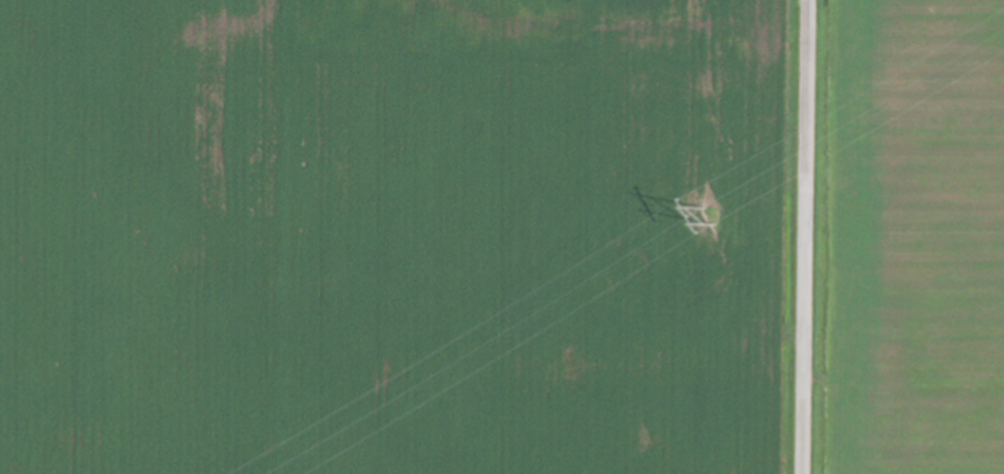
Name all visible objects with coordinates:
power tower: (707, 214)
road: (807, 237)

